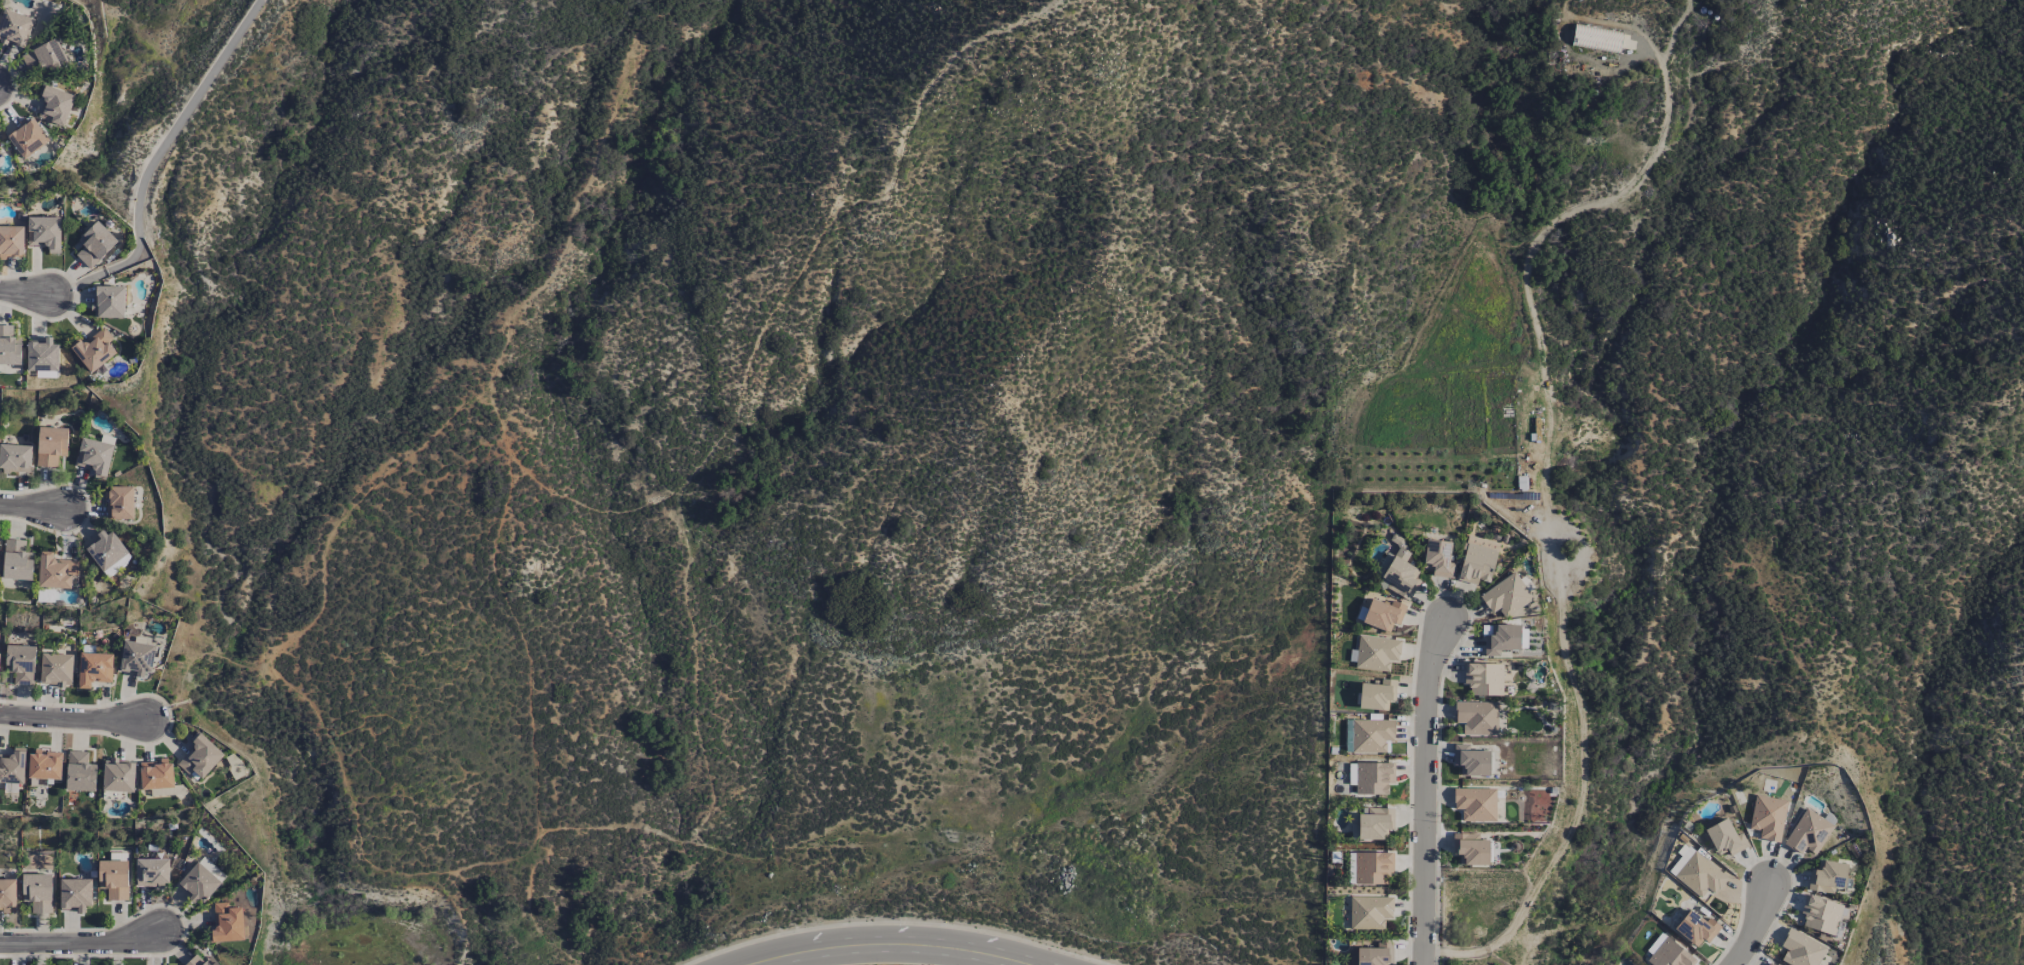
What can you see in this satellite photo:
building: (15, 28)
building: (1597, 38)
building: (45, 56)
building: (56, 105)
building: (29, 137)
road: (153, 162)
building: (45, 232)
building: (11, 241)
building: (95, 244)
road: (23, 295)
building: (109, 301)
building: (9, 346)
building: (95, 349)
building: (43, 355)
building: (51, 445)
building: (95, 456)
building: (15, 458)
building: (120, 503)
road: (28, 507)
building: (108, 552)
building: (1439, 558)
building: (17, 560)
building: (1478, 560)
building: (1397, 570)
building: (56, 571)
building: (1507, 595)
building: (1383, 614)
building: (1500, 639)
building: (1376, 653)
building: (137, 657)
building: (21, 663)
building: (94, 668)
building: (57, 669)
building: (1484, 679)
building: (1377, 694)
building: (1477, 717)
road: (71, 719)
building: (1372, 735)
building: (200, 756)
building: (1471, 760)
building: (13, 766)
building: (80, 772)
building: (157, 774)
building: (119, 775)
building: (1371, 777)
road: (1424, 792)
building: (1476, 804)
building: (1768, 817)
building: (1375, 823)
building: (1808, 832)
building: (1725, 838)
building: (1470, 849)
building: (1373, 867)
building: (152, 872)
building: (1697, 873)
building: (1829, 877)
building: (114, 878)
building: (200, 880)
building: (38, 891)
building: (8, 894)
building: (75, 894)
building: (1370, 912)
building: (1822, 915)
building: (227, 923)
road: (1754, 927)
building: (1696, 928)
road: (81, 943)
road: (884, 944)
building: (1801, 949)
building: (1667, 953)
building: (1373, 954)
building: (201, 961)

